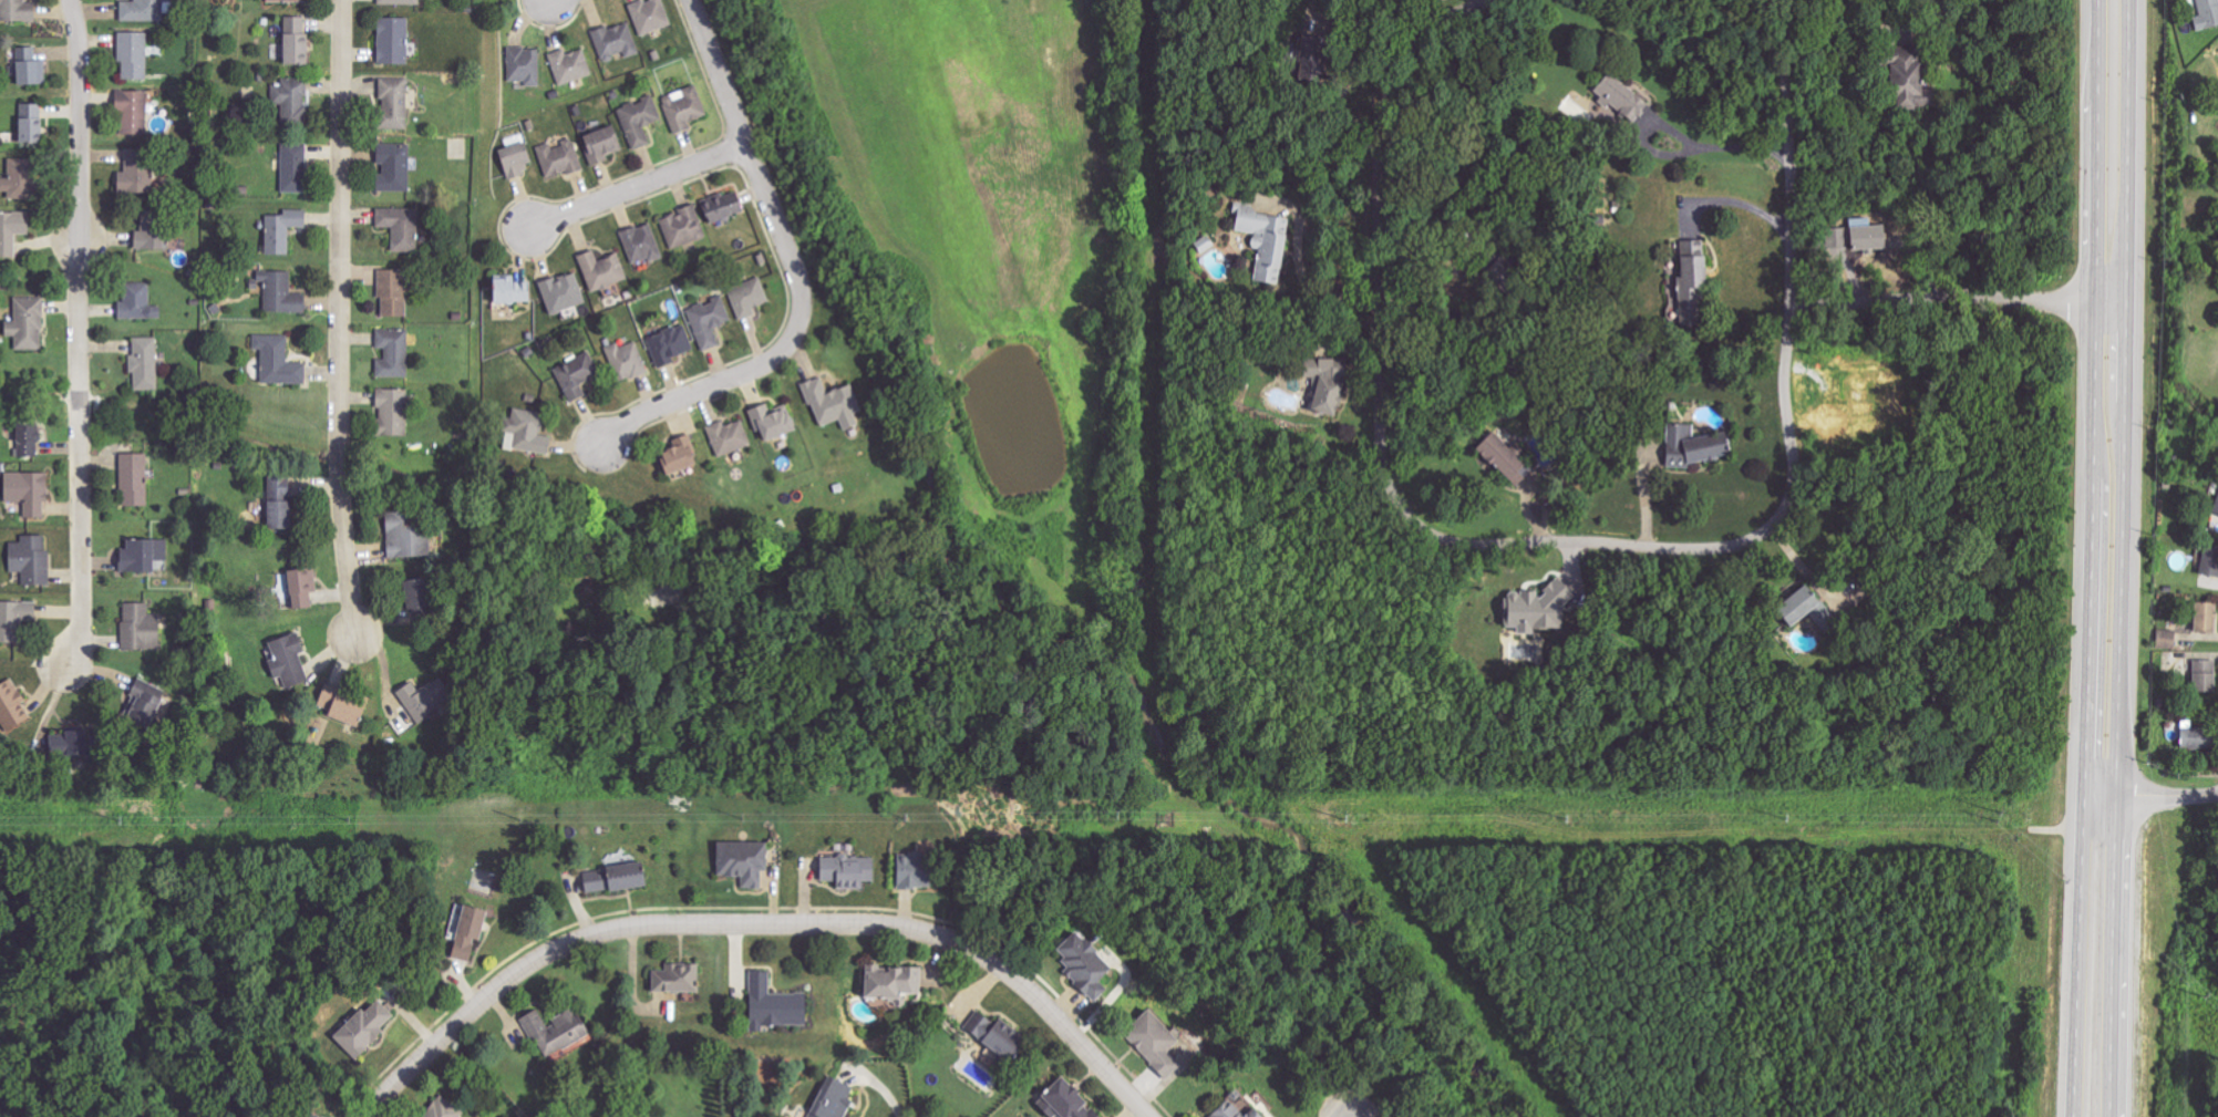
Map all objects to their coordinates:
building: (285, 1)
building: (398, 2)
building: (142, 10)
building: (17, 11)
road: (1463, 12)
building: (2207, 14)
building: (649, 15)
road: (1363, 29)
building: (295, 41)
building: (392, 41)
building: (616, 41)
building: (1310, 46)
building: (133, 54)
building: (1290, 54)
building: (525, 65)
building: (570, 65)
building: (28, 68)
building: (1311, 71)
building: (1905, 80)
building: (1619, 97)
building: (290, 101)
building: (392, 104)
building: (683, 107)
building: (133, 113)
building: (639, 120)
building: (30, 123)
road: (1677, 138)
building: (601, 144)
road: (1789, 148)
building: (559, 158)
building: (515, 161)
building: (292, 167)
building: (393, 167)
building: (18, 179)
road: (638, 184)
road: (1740, 201)
building: (722, 207)
building: (683, 227)
building: (400, 228)
building: (280, 230)
building: (11, 231)
building: (153, 231)
building: (1856, 236)
road: (1380, 237)
building: (1265, 238)
building: (641, 244)
road: (1300, 259)
building: (601, 270)
road: (794, 270)
building: (1690, 282)
building: (508, 291)
building: (279, 292)
building: (392, 293)
building: (561, 293)
building: (749, 298)
building: (137, 301)
road: (1960, 302)
road: (338, 318)
building: (710, 321)
building: (27, 323)
road: (80, 334)
building: (671, 344)
building: (393, 353)
building: (277, 361)
building: (627, 361)
building: (144, 364)
building: (577, 375)
building: (1328, 382)
building: (832, 404)
building: (391, 413)
building: (771, 423)
building: (526, 433)
building: (729, 437)
building: (27, 442)
building: (1693, 446)
building: (678, 456)
building: (1505, 458)
building: (134, 480)
building: (27, 493)
building: (276, 503)
building: (2216, 508)
building: (401, 536)
road: (1682, 547)
building: (142, 555)
road: (2095, 558)
road: (2122, 558)
building: (31, 559)
building: (2209, 562)
building: (299, 588)
building: (413, 594)
building: (1535, 609)
building: (1805, 609)
building: (2205, 618)
building: (14, 619)
building: (138, 627)
building: (2166, 639)
building: (291, 660)
building: (2204, 676)
building: (421, 701)
building: (142, 705)
building: (12, 706)
building: (341, 709)
building: (2193, 737)
building: (64, 745)
road: (2167, 796)
building: (742, 861)
building: (911, 870)
building: (847, 871)
building: (611, 877)
road: (760, 923)
building: (467, 931)
building: (1083, 965)
building: (675, 978)
building: (890, 982)
building: (772, 1003)
building: (367, 1027)
building: (560, 1032)
building: (997, 1036)
building: (1152, 1042)
building: (833, 1099)
building: (1064, 1100)
building: (442, 1109)
building: (1232, 1111)

